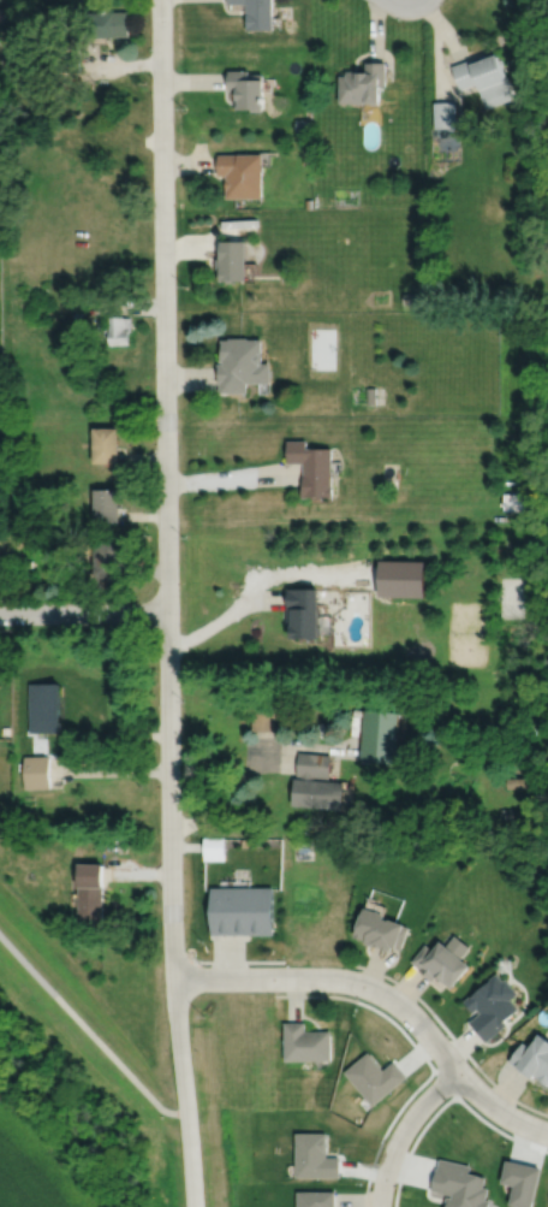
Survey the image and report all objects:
road: (419, 2)
road: (403, 4)
building: (2, 12)
building: (258, 12)
building: (106, 23)
building: (68, 58)
building: (487, 76)
building: (364, 82)
building: (248, 88)
building: (445, 113)
building: (302, 124)
building: (242, 173)
building: (232, 259)
building: (287, 274)
building: (87, 295)
building: (410, 297)
building: (118, 329)
building: (242, 363)
building: (371, 395)
building: (105, 445)
building: (314, 468)
road: (230, 479)
building: (106, 505)
building: (106, 561)
building: (25, 563)
park: (512, 596)
road: (4, 598)
road: (167, 603)
building: (304, 610)
road: (84, 613)
road: (221, 617)
road: (5, 628)
park: (467, 632)
building: (54, 708)
building: (357, 710)
building: (263, 716)
building: (6, 729)
building: (381, 734)
building: (37, 771)
building: (517, 780)
building: (316, 781)
road: (231, 792)
building: (506, 811)
building: (213, 846)
building: (89, 892)
building: (240, 909)
building: (381, 929)
building: (443, 959)
road: (29, 964)
road: (386, 995)
building: (492, 1005)
road: (401, 1029)
road: (448, 1031)
building: (305, 1042)
building: (532, 1058)
road: (118, 1061)
building: (374, 1076)
road: (403, 1129)
crop: (35, 1166)
building: (523, 1182)
building: (460, 1184)
road: (365, 1195)
building: (316, 1199)

